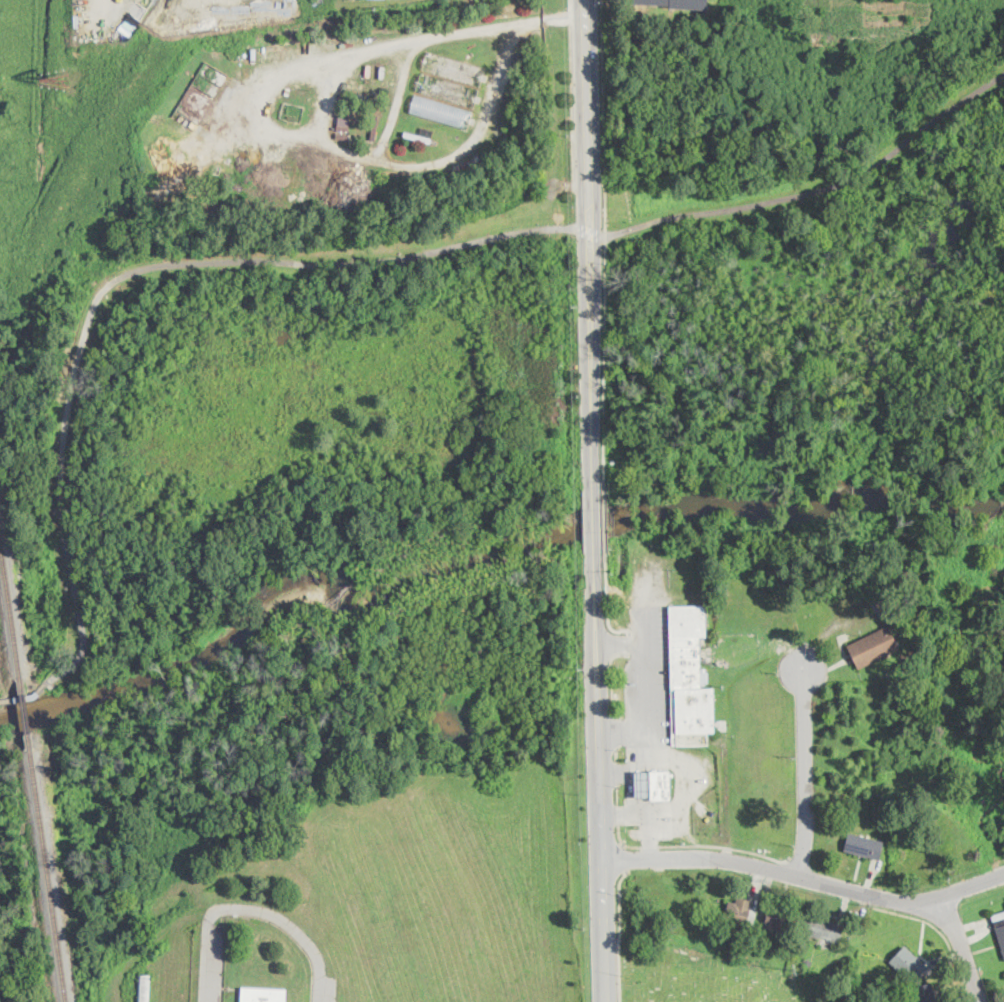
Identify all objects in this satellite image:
building: (675, 4)
building: (453, 67)
building: (447, 89)
building: (441, 111)
road: (603, 117)
building: (343, 121)
road: (388, 125)
building: (375, 126)
building: (421, 134)
road: (818, 189)
road: (590, 230)
road: (591, 243)
road: (130, 273)
power tower: (574, 308)
road: (604, 360)
road: (593, 520)
road: (604, 522)
road: (607, 605)
railway: (11, 615)
building: (877, 638)
road: (621, 644)
road: (628, 644)
power tower: (581, 669)
road: (611, 677)
building: (689, 678)
road: (25, 697)
road: (647, 709)
railway: (25, 712)
road: (624, 729)
road: (616, 731)
road: (616, 754)
road: (620, 767)
road: (805, 771)
road: (616, 773)
road: (601, 777)
building: (641, 783)
gas station: (641, 783)
building: (659, 784)
road: (686, 785)
road: (617, 794)
road: (648, 813)
road: (617, 814)
road: (699, 844)
building: (863, 847)
road: (624, 858)
railway: (46, 867)
road: (806, 877)
road: (256, 908)
building: (741, 913)
building: (777, 920)
building: (1000, 926)
building: (823, 930)
road: (619, 933)
building: (722, 936)
road: (964, 946)
building: (741, 951)
building: (808, 963)
building: (907, 963)
power tower: (793, 970)
park: (714, 978)
building: (142, 989)
building: (925, 993)
building: (263, 995)

